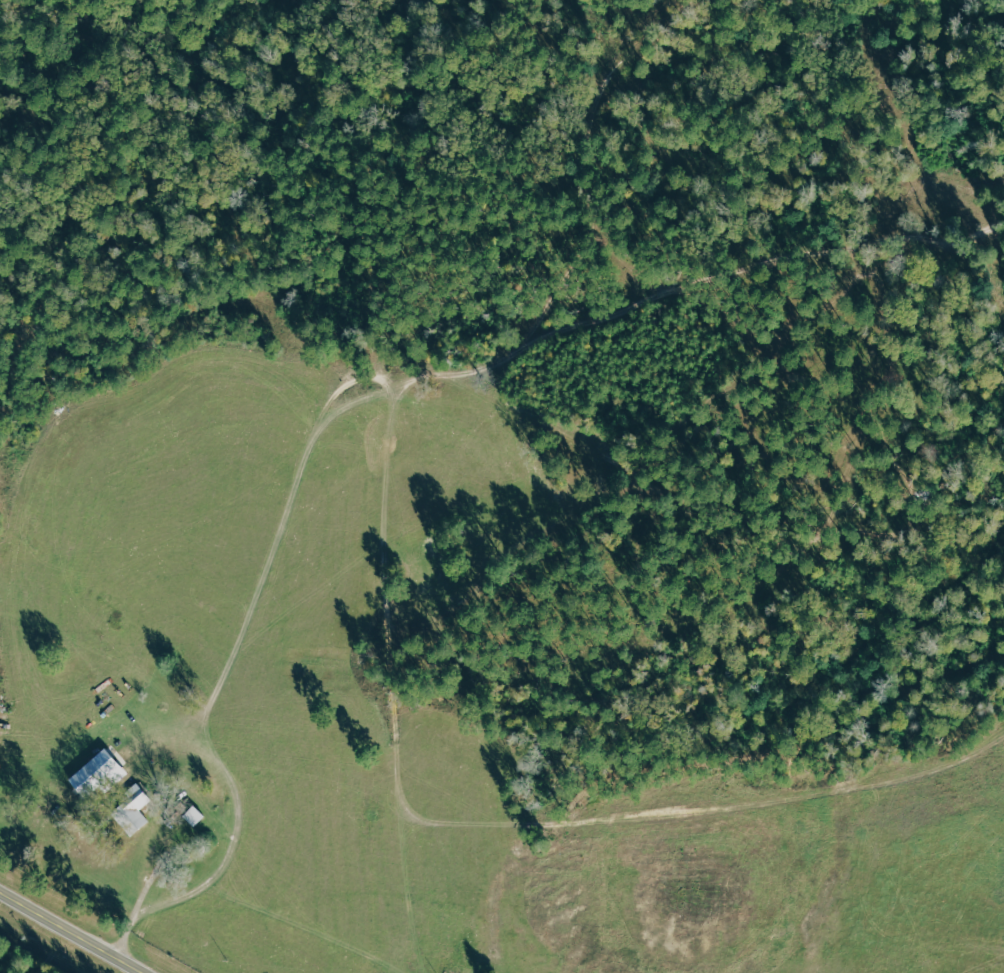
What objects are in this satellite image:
building: (103, 774)
road: (139, 902)
road: (67, 934)

